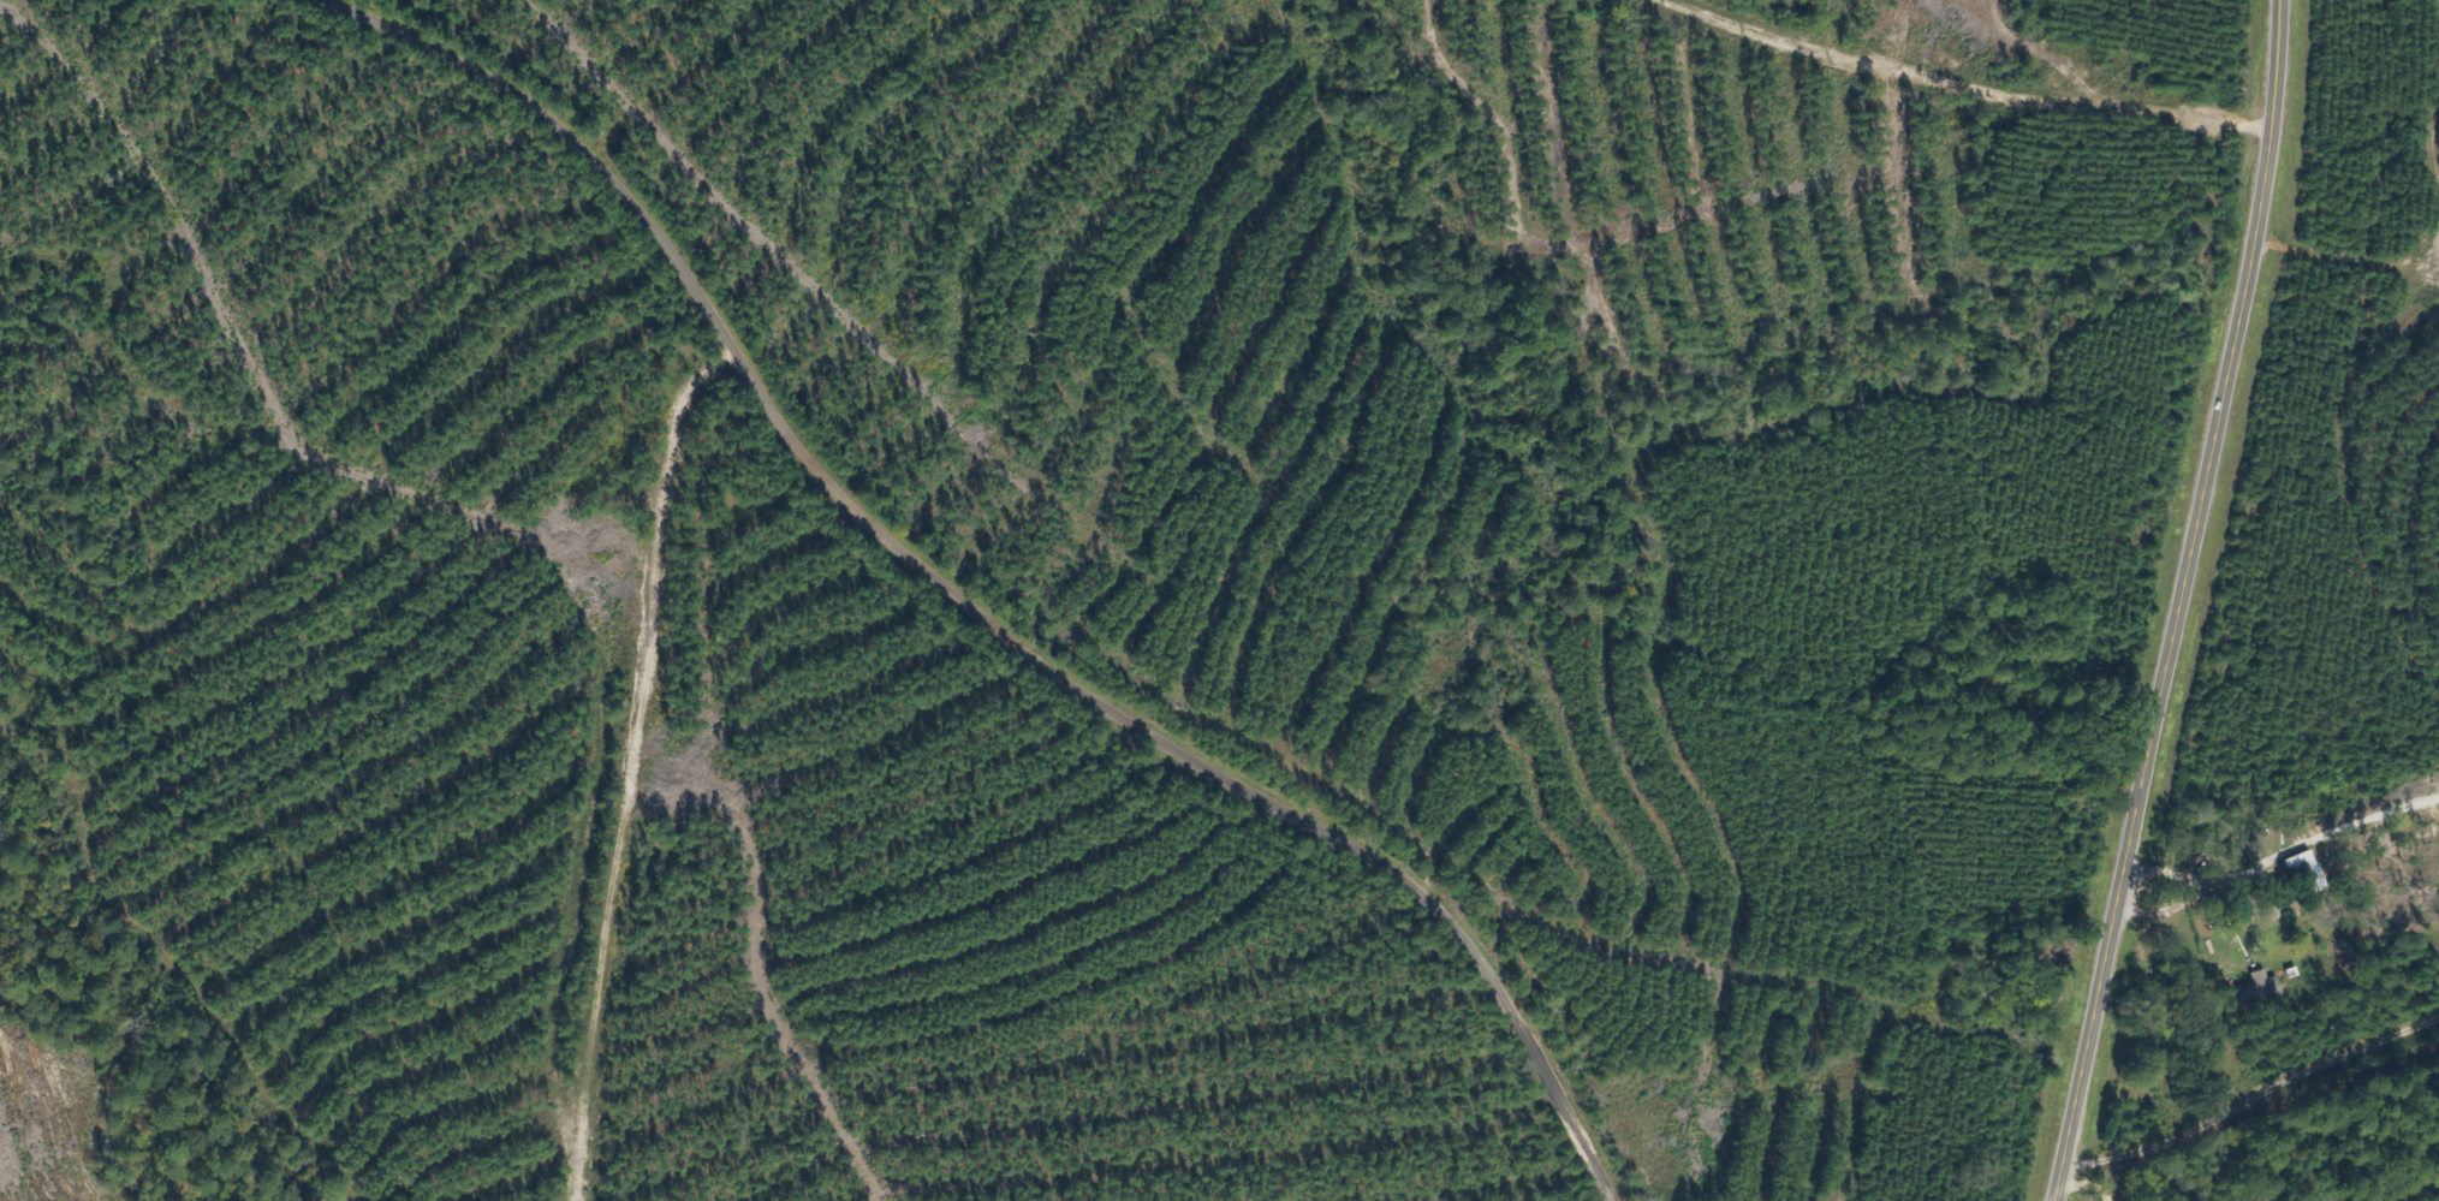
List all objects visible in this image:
road: (1964, 83)
road: (2173, 601)
road: (968, 607)
road: (621, 763)

